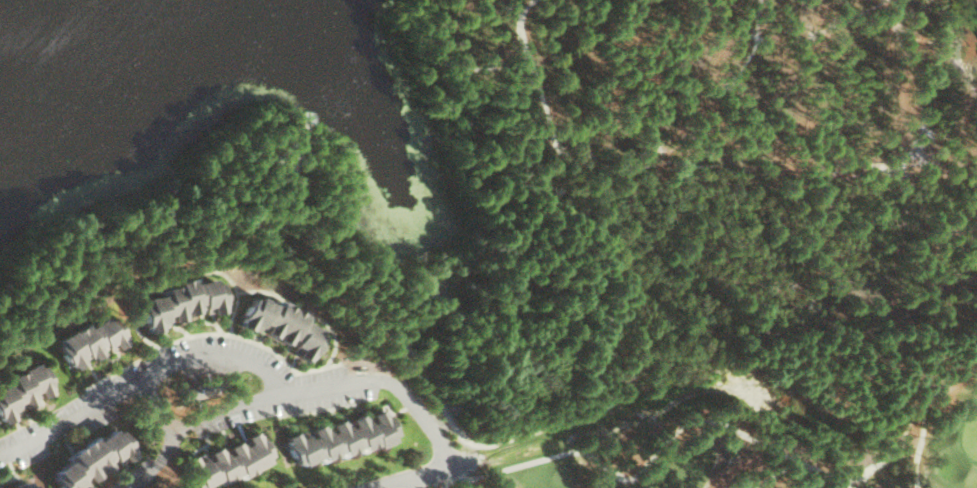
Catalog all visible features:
park: (448, 127)
building: (184, 302)
building: (285, 326)
building: (91, 340)
road: (140, 374)
road: (333, 387)
building: (23, 391)
road: (434, 395)
road: (180, 430)
building: (344, 437)
park: (713, 444)
road: (897, 450)
building: (95, 459)
building: (229, 461)
road: (641, 474)
road: (419, 477)
road: (447, 477)
building: (21, 484)

